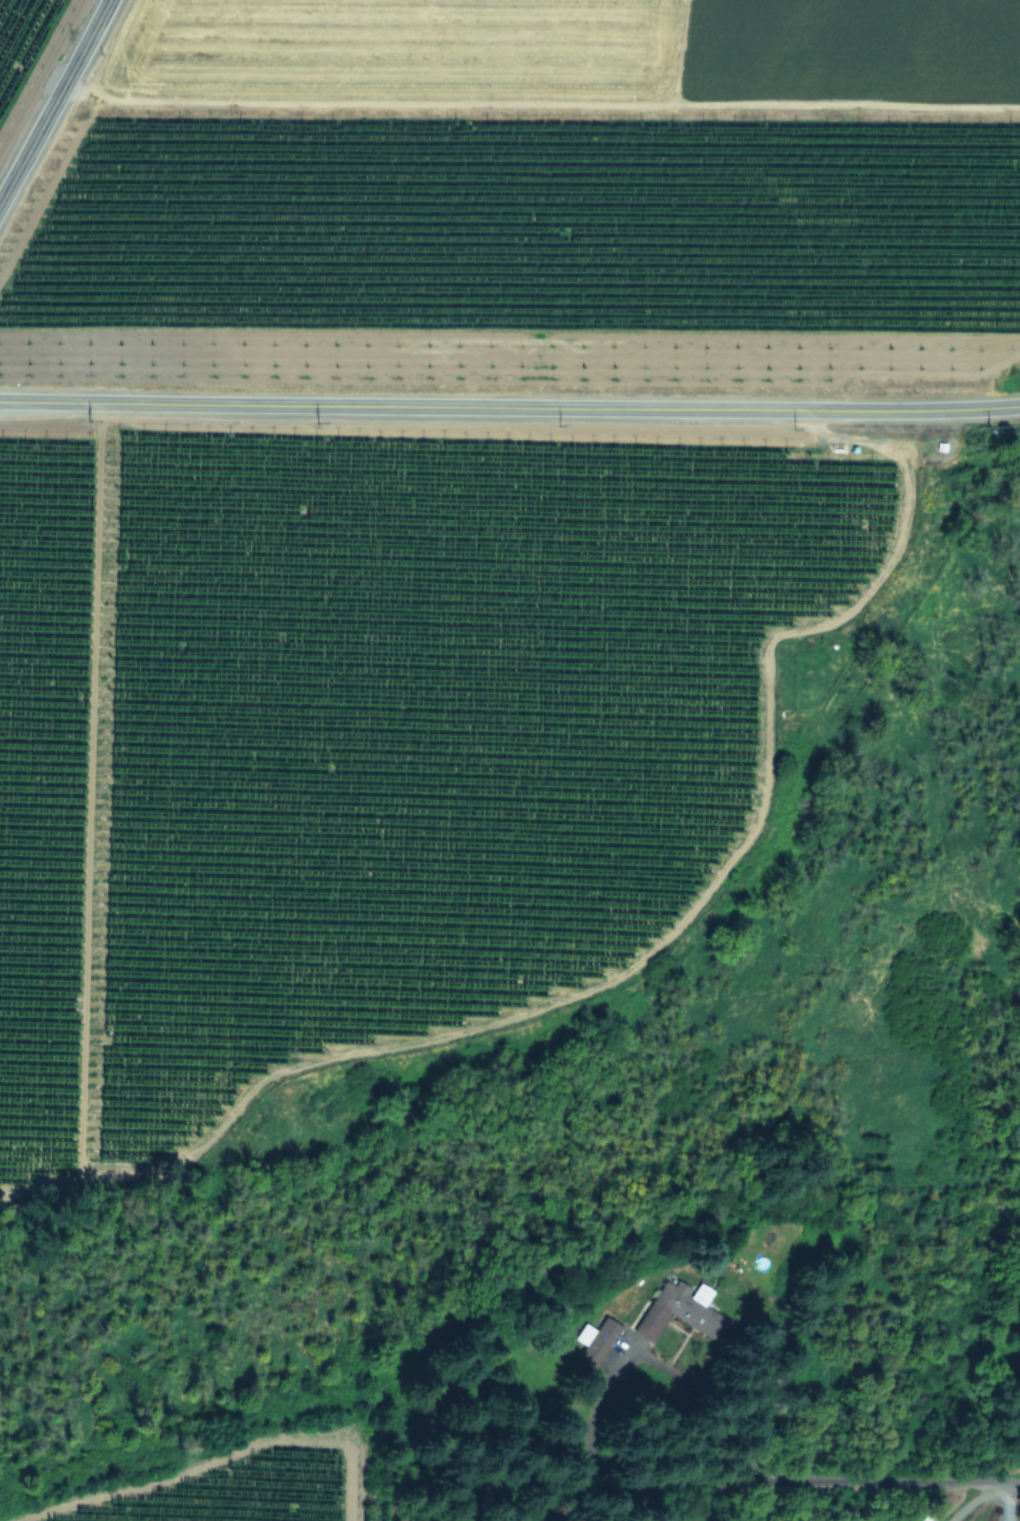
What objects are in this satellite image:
crop: (19, 37)
crop: (527, 59)
road: (54, 100)
road: (510, 406)
building: (676, 1310)
building: (597, 1341)
road: (821, 1482)
crop: (304, 1497)
building: (920, 1516)

